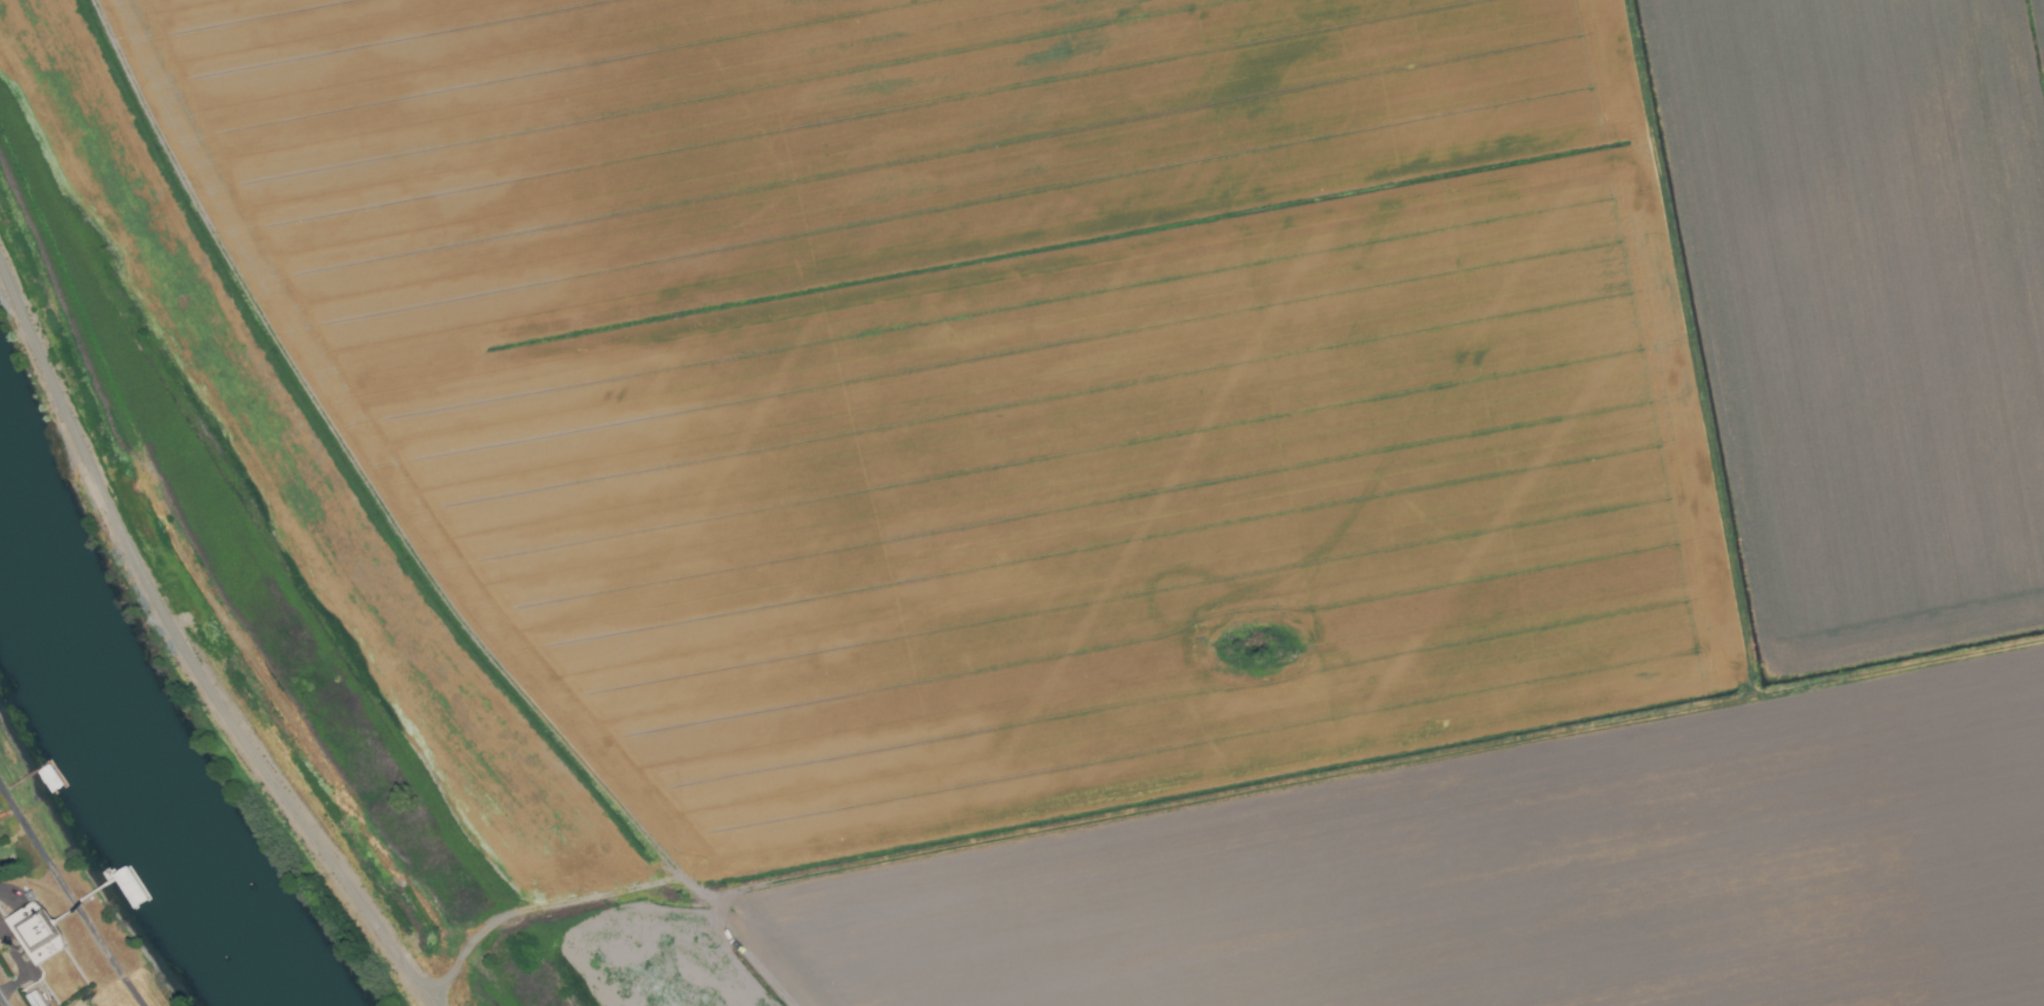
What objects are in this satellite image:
crop: (1094, 482)
road: (69, 897)
crop: (87, 997)
road: (0, 1004)

